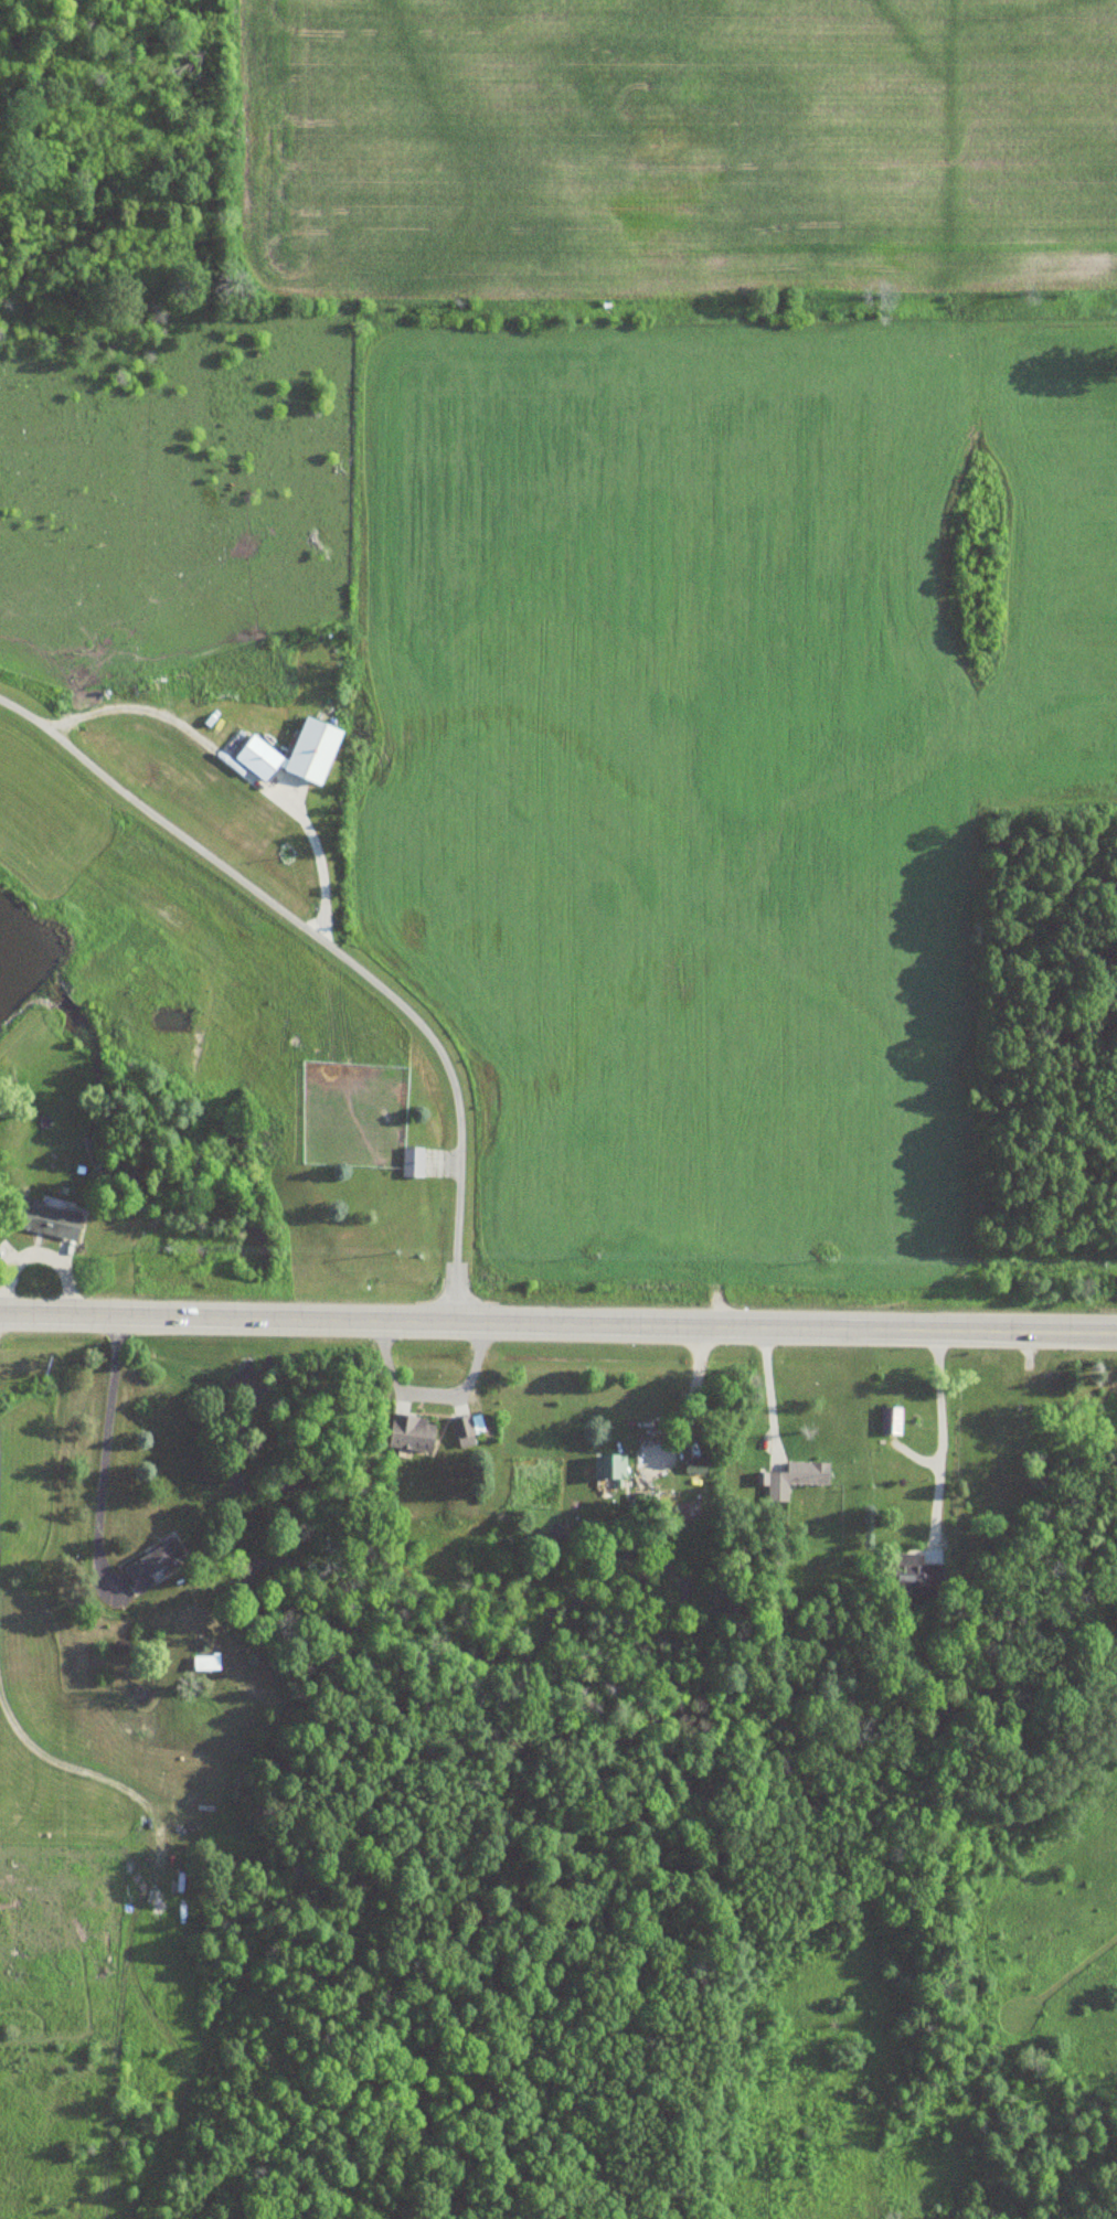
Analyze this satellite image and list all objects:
building: (291, 756)
road: (337, 952)
building: (409, 1162)
building: (45, 1220)
road: (558, 1325)
road: (767, 1391)
building: (887, 1420)
building: (461, 1432)
building: (408, 1433)
road: (939, 1438)
building: (607, 1466)
building: (794, 1479)
building: (685, 1511)
building: (150, 1565)
building: (914, 1576)

